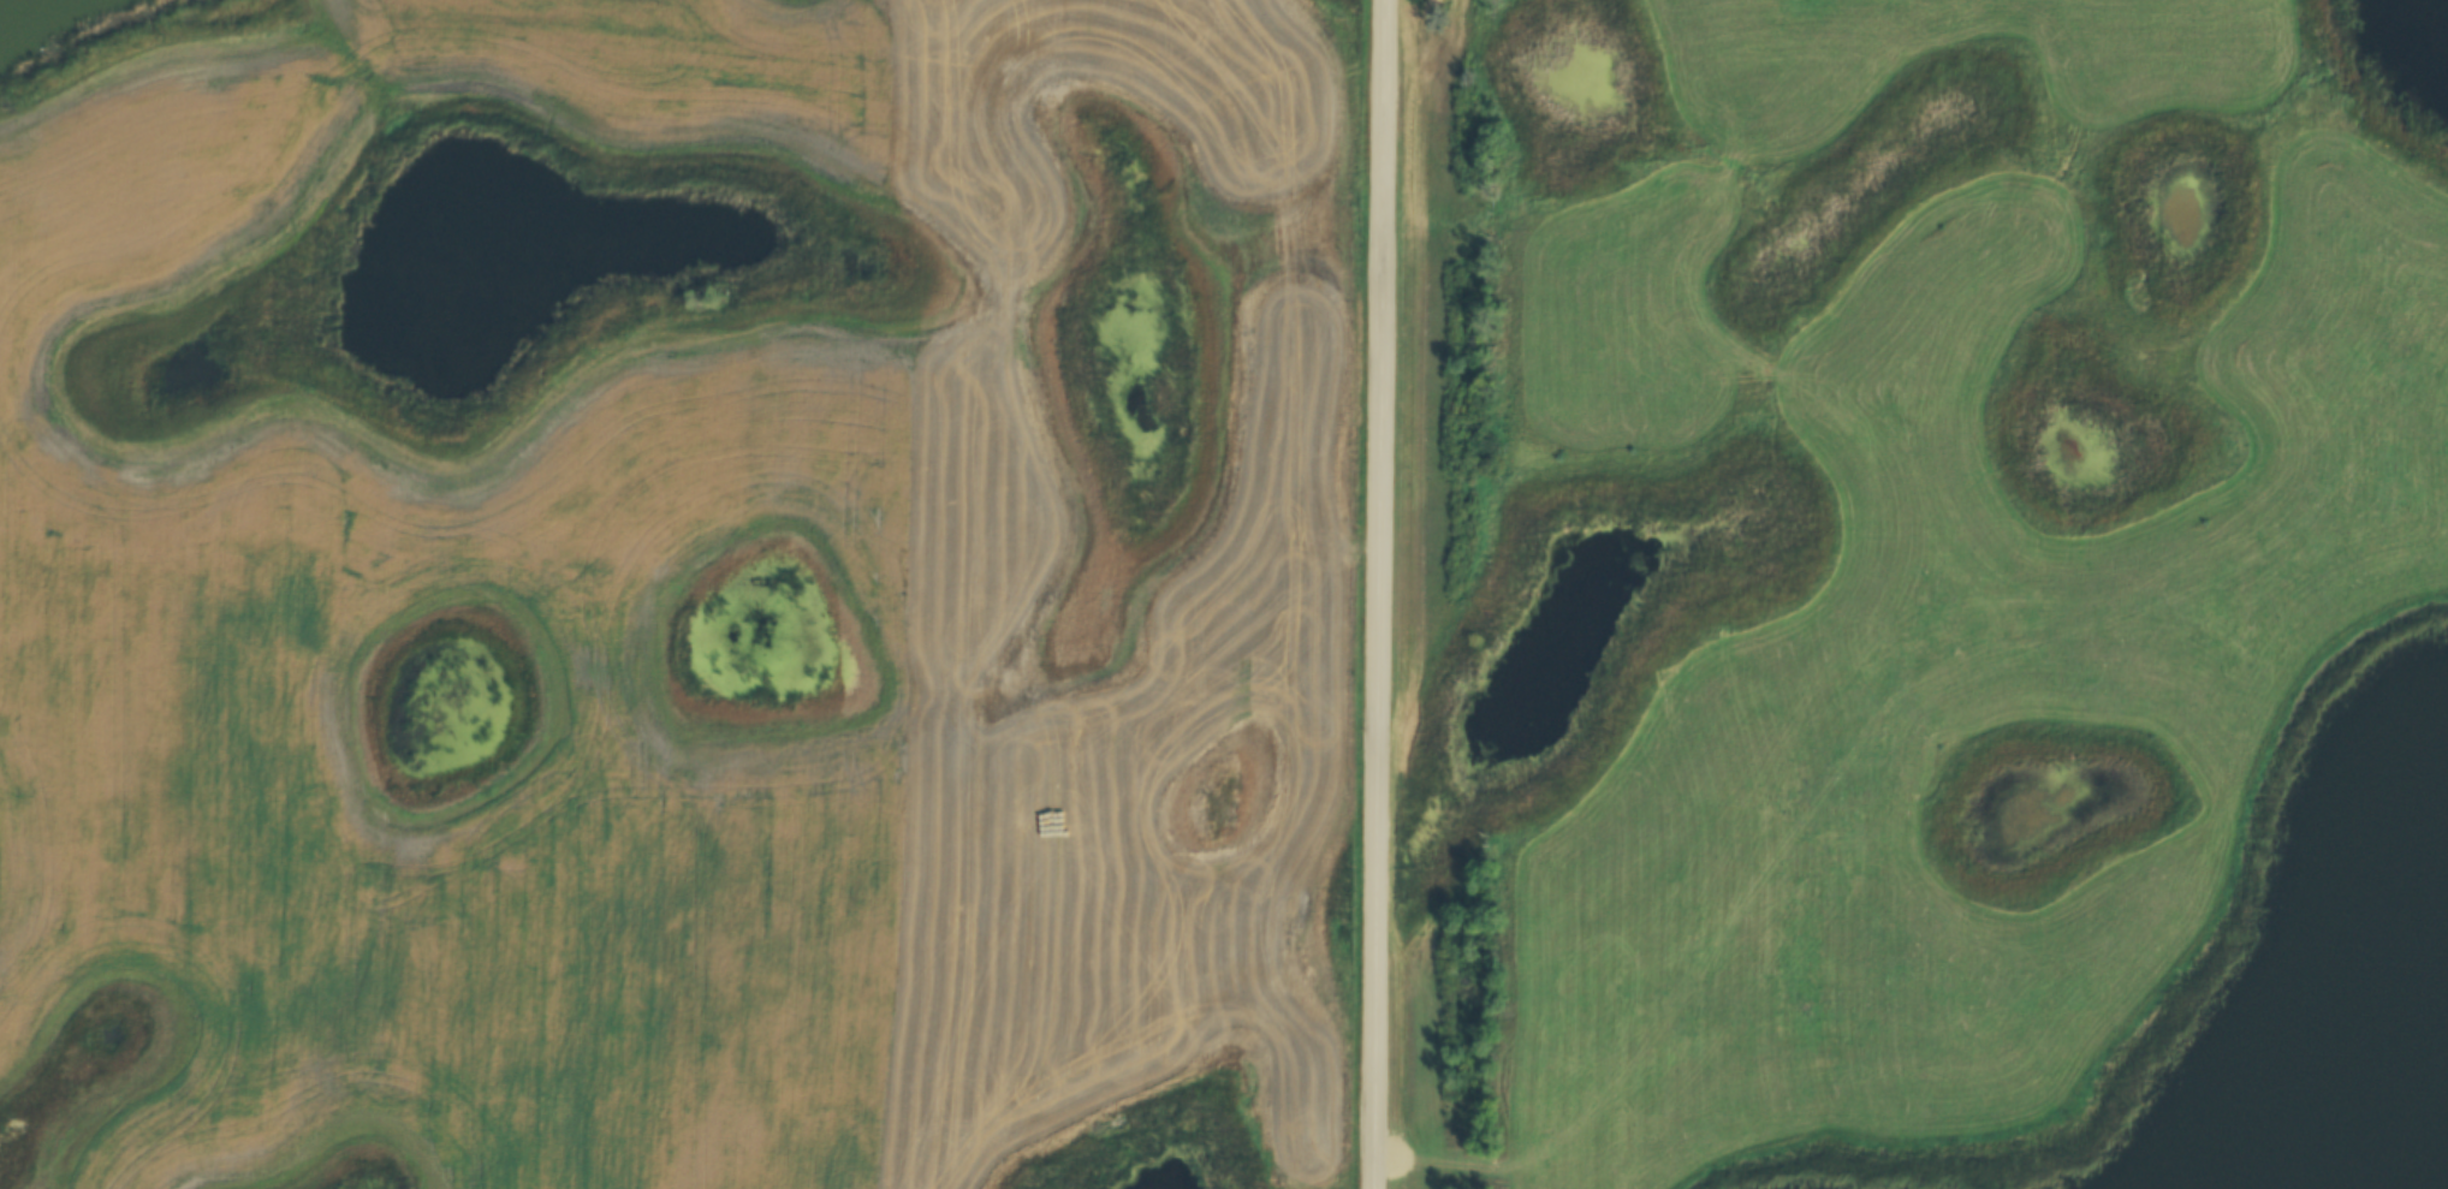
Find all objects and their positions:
road: (1389, 594)

